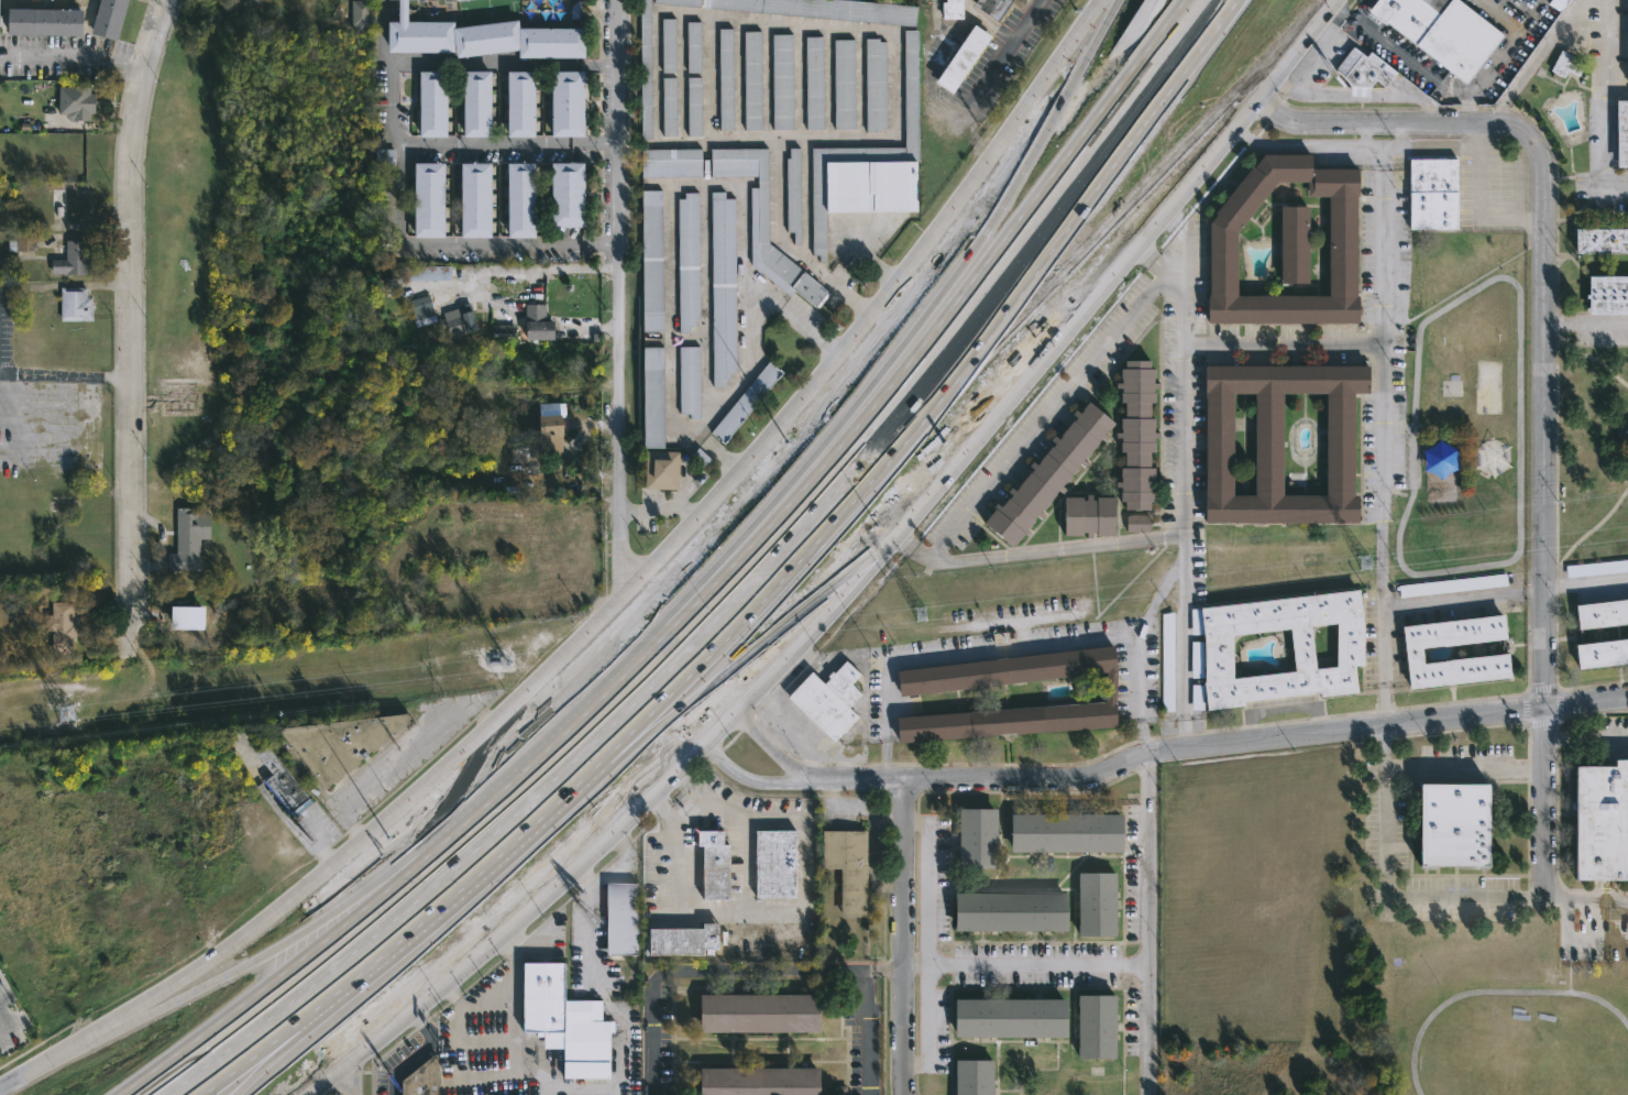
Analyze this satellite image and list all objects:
building: (1009, 2)
road: (1124, 4)
building: (982, 7)
building: (948, 9)
road: (1341, 14)
building: (360, 17)
road: (705, 17)
building: (107, 18)
road: (972, 18)
building: (42, 21)
building: (1437, 31)
building: (482, 37)
building: (1627, 40)
building: (668, 45)
road: (1547, 45)
building: (693, 46)
road: (1399, 55)
road: (1499, 56)
road: (73, 57)
building: (957, 58)
road: (504, 64)
building: (1564, 64)
building: (1358, 72)
building: (722, 77)
building: (748, 80)
building: (778, 81)
building: (648, 83)
building: (811, 83)
building: (839, 84)
building: (871, 85)
road: (1506, 98)
building: (566, 102)
building: (84, 103)
building: (429, 103)
building: (474, 103)
building: (519, 103)
building: (693, 105)
building: (669, 106)
road: (1603, 106)
road: (963, 111)
road: (1493, 116)
road: (1188, 118)
building: (1619, 133)
road: (510, 142)
road: (1308, 144)
road: (1373, 147)
building: (382, 158)
building: (671, 163)
building: (866, 165)
building: (565, 194)
building: (790, 194)
building: (1429, 195)
building: (425, 199)
building: (517, 199)
building: (472, 200)
building: (74, 205)
building: (763, 223)
road: (394, 230)
building: (1599, 240)
building: (26, 242)
building: (1288, 244)
park: (1467, 254)
road: (867, 256)
building: (73, 259)
building: (654, 260)
building: (687, 261)
building: (1217, 263)
road: (516, 271)
road: (1064, 271)
building: (426, 272)
building: (719, 288)
road: (933, 291)
road: (620, 292)
building: (1605, 295)
road: (129, 300)
building: (78, 304)
building: (444, 318)
building: (538, 324)
road: (1587, 327)
road: (935, 332)
building: (505, 335)
road: (1587, 340)
road: (1283, 344)
road: (1026, 346)
road: (746, 353)
road: (1547, 362)
road: (64, 375)
building: (689, 382)
building: (657, 397)
building: (740, 403)
road: (1397, 416)
road: (1382, 426)
park: (1473, 428)
building: (552, 434)
building: (1135, 436)
park: (1596, 436)
building: (1273, 444)
building: (1488, 457)
building: (1436, 460)
building: (661, 470)
building: (1046, 475)
road: (659, 507)
road: (966, 507)
building: (1087, 516)
road: (1182, 518)
building: (1136, 523)
road: (1598, 525)
road: (843, 529)
road: (1529, 537)
building: (191, 539)
power tower: (1364, 559)
building: (1596, 568)
road: (856, 582)
building: (1451, 585)
road: (1587, 585)
road: (738, 592)
road: (695, 594)
road: (1464, 599)
road: (1157, 603)
road: (609, 605)
power tower: (920, 615)
building: (1599, 615)
building: (186, 617)
building: (63, 627)
road: (1015, 649)
building: (1408, 651)
building: (1209, 654)
building: (1599, 654)
power tower: (495, 661)
building: (1167, 672)
building: (904, 694)
building: (823, 701)
power tower: (64, 714)
road: (1586, 734)
road: (1265, 741)
building: (344, 745)
road: (768, 747)
road: (548, 748)
road: (399, 753)
road: (1465, 768)
road: (856, 776)
road: (749, 780)
building: (284, 781)
road: (690, 788)
building: (1599, 823)
building: (1447, 824)
road: (739, 826)
building: (1066, 835)
road: (313, 839)
building: (977, 841)
road: (671, 850)
building: (770, 864)
building: (708, 865)
building: (845, 868)
road: (380, 885)
park: (1272, 886)
road: (455, 890)
road: (1387, 898)
road: (1581, 898)
building: (1098, 908)
building: (1013, 909)
road: (711, 911)
building: (625, 918)
road: (1569, 923)
road: (1146, 926)
road: (1594, 933)
road: (901, 934)
road: (927, 935)
road: (1583, 938)
building: (683, 939)
road: (254, 959)
road: (1023, 965)
road: (706, 972)
road: (888, 972)
road: (276, 982)
road: (1487, 982)
building: (751, 1011)
road: (132, 1015)
building: (1009, 1018)
building: (570, 1021)
building: (1097, 1027)
road: (8, 1028)
road: (866, 1034)
park: (1516, 1036)
road: (414, 1053)
road: (239, 1066)
road: (352, 1076)
building: (974, 1076)
building: (425, 1078)
building: (752, 1081)

